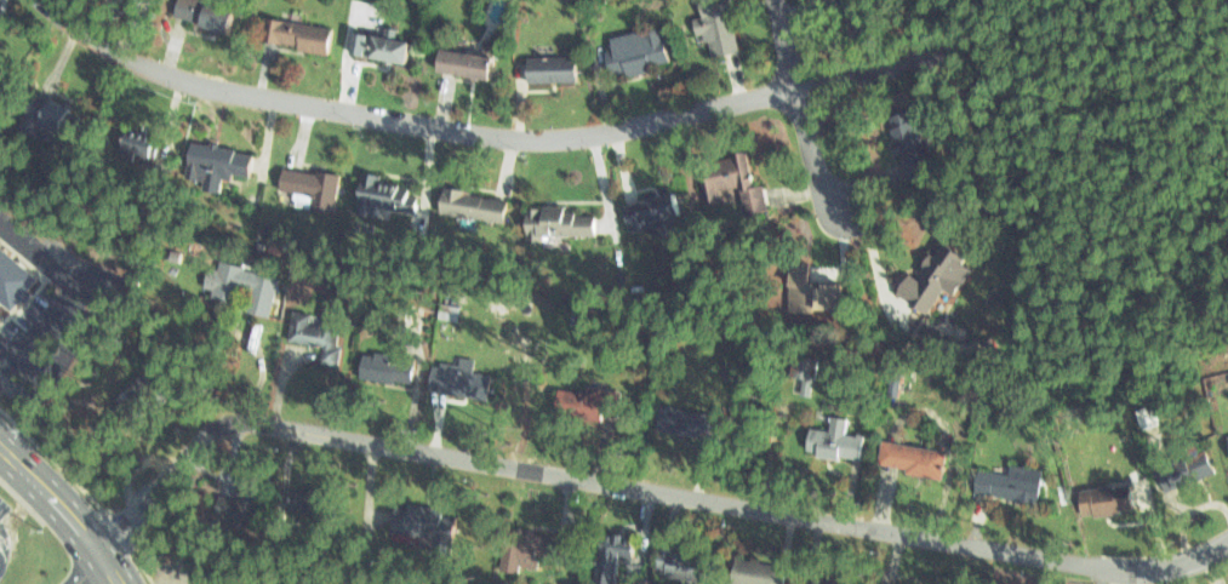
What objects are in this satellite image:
building: (138, 0)
building: (118, 1)
building: (198, 12)
building: (852, 18)
building: (713, 23)
building: (297, 34)
building: (376, 41)
building: (633, 48)
building: (462, 58)
building: (550, 70)
road: (803, 111)
building: (55, 119)
road: (489, 133)
building: (910, 134)
building: (137, 144)
building: (209, 167)
building: (726, 176)
building: (308, 182)
building: (373, 194)
building: (644, 205)
building: (469, 208)
building: (558, 218)
building: (15, 279)
building: (224, 280)
building: (927, 282)
building: (805, 291)
road: (68, 297)
building: (450, 311)
building: (316, 334)
building: (384, 368)
building: (796, 368)
building: (452, 382)
building: (135, 399)
building: (596, 402)
building: (679, 418)
building: (829, 436)
building: (1226, 437)
building: (903, 453)
building: (1182, 466)
road: (562, 475)
building: (1004, 479)
building: (1097, 494)
building: (309, 497)
building: (235, 503)
road: (64, 509)
building: (412, 519)
building: (515, 549)
building: (607, 559)
building: (676, 562)
road: (1159, 566)
road: (86, 568)
building: (753, 571)
building: (200, 577)
building: (816, 582)
building: (891, 582)

